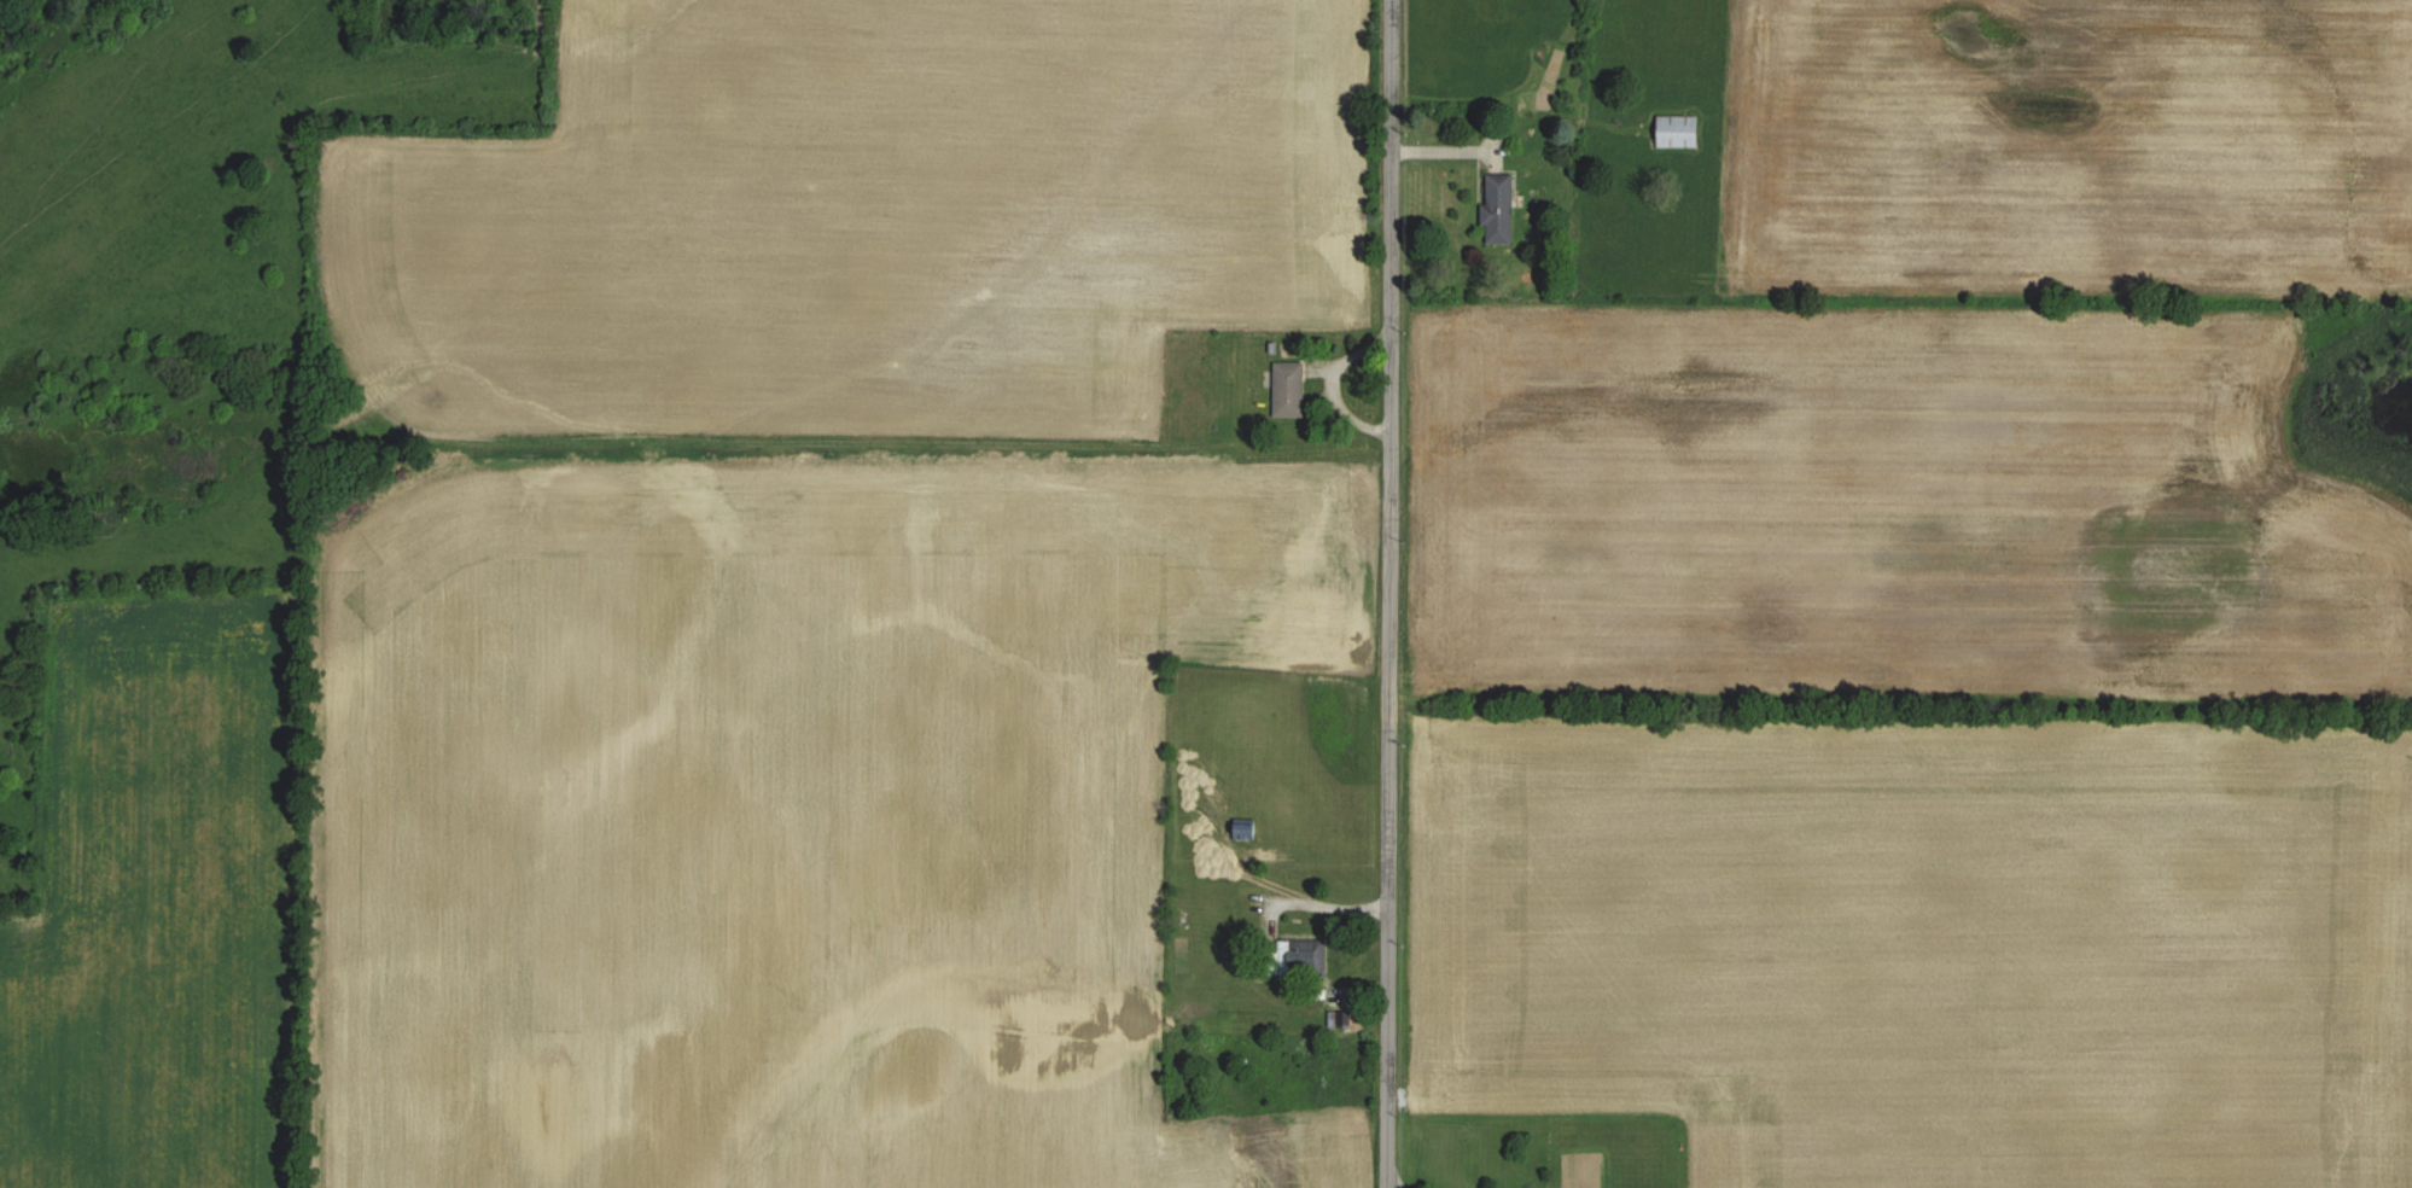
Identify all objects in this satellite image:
building: (1683, 132)
building: (1504, 209)
building: (1294, 390)
road: (1388, 594)
building: (1312, 953)

